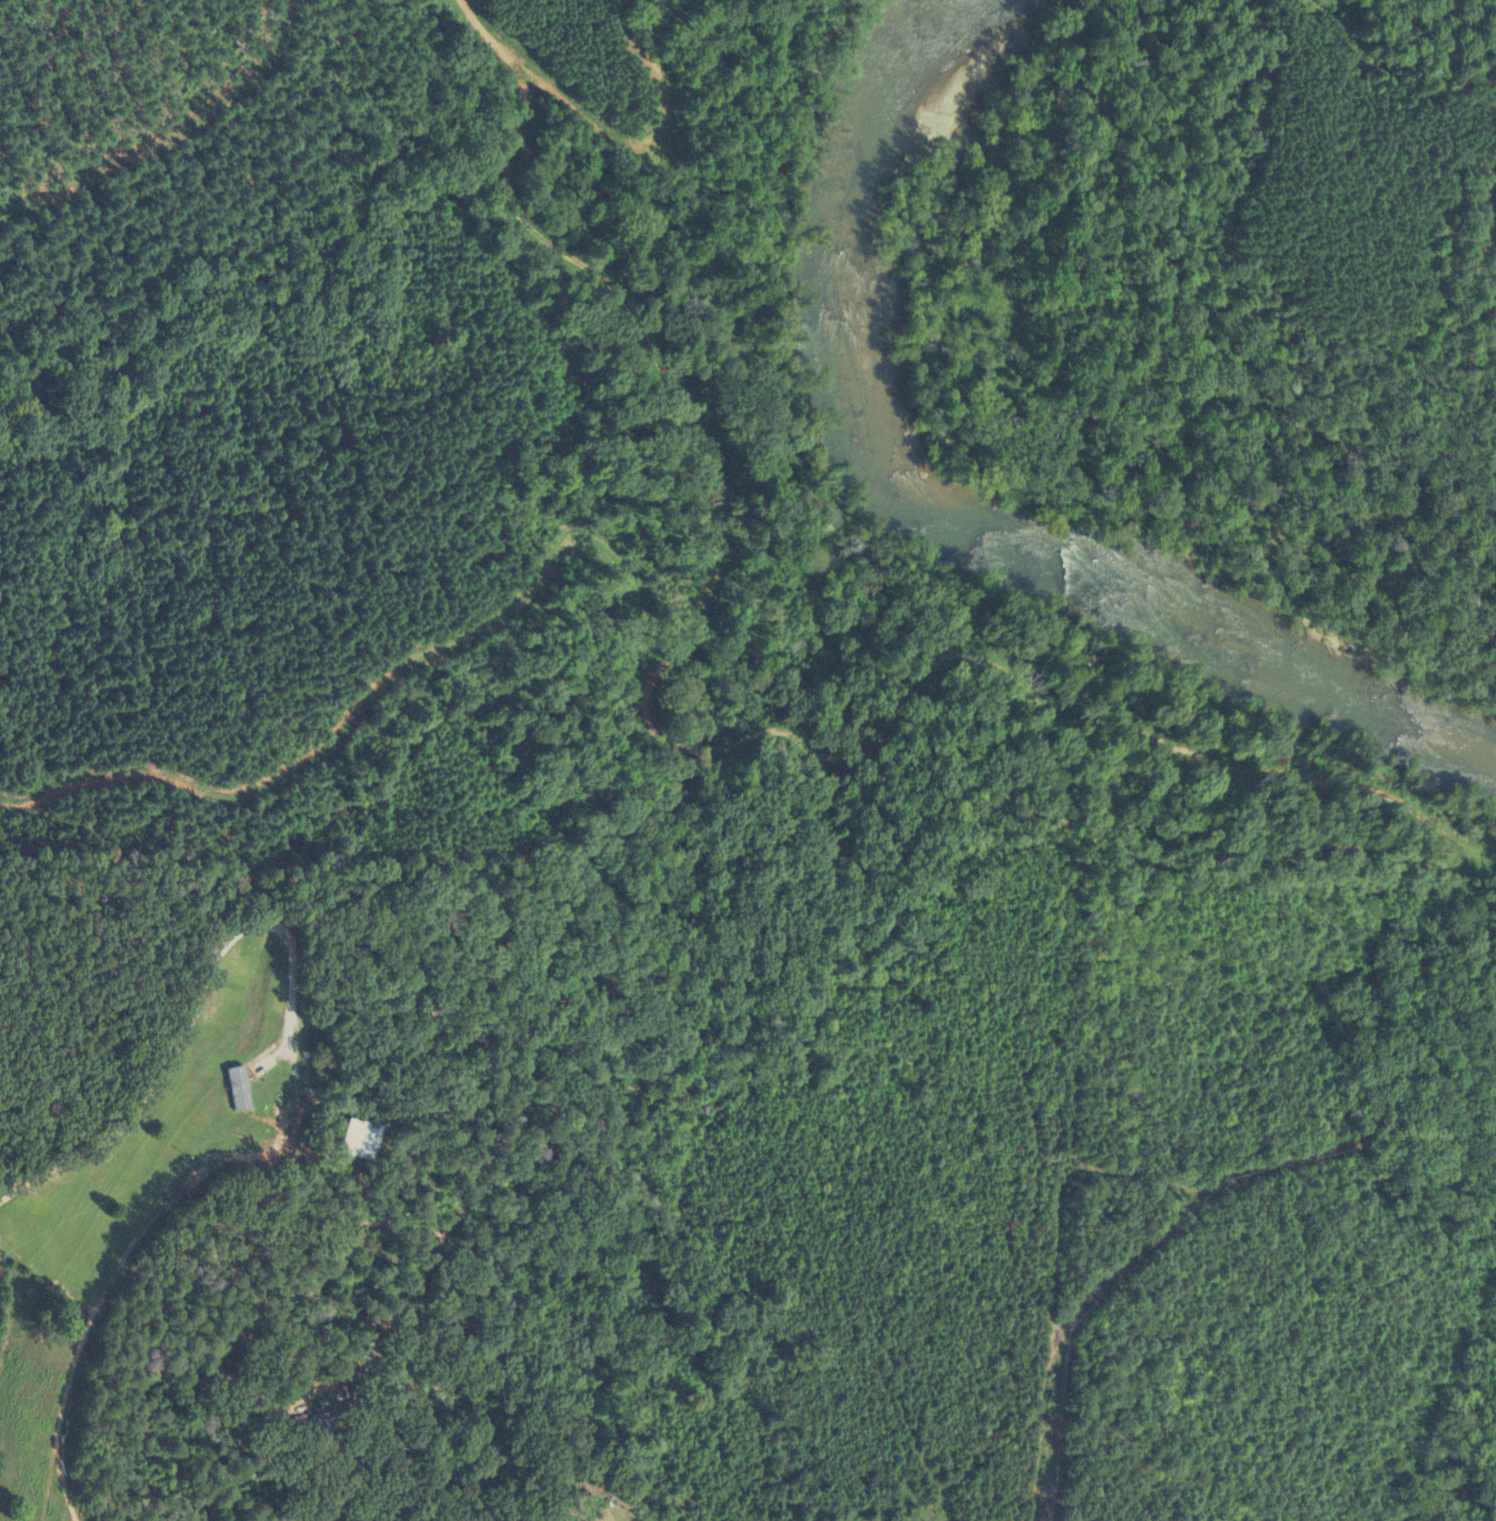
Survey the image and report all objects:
river: (954, 511)
road: (190, 1004)
building: (231, 1086)
road: (1063, 1176)
building: (374, 1347)
road: (297, 1425)
building: (320, 1430)

